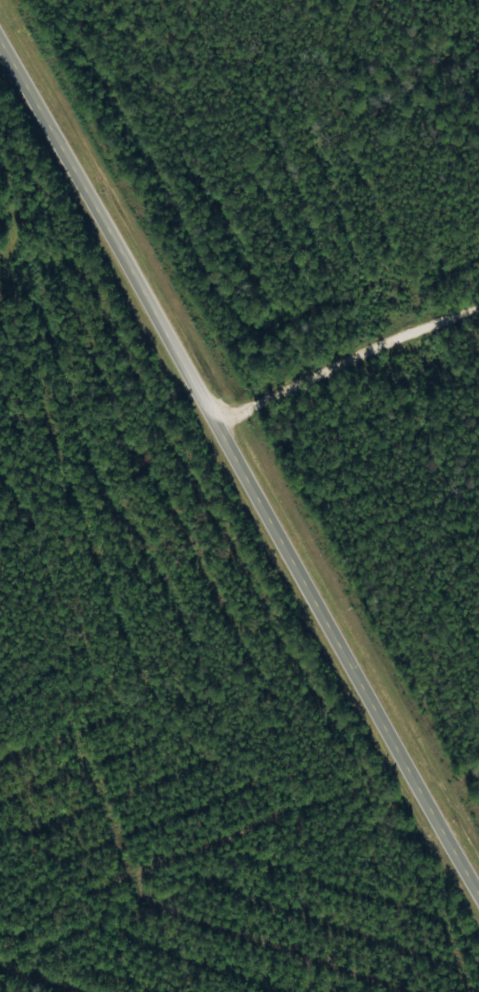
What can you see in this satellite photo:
road: (342, 350)
road: (240, 465)

